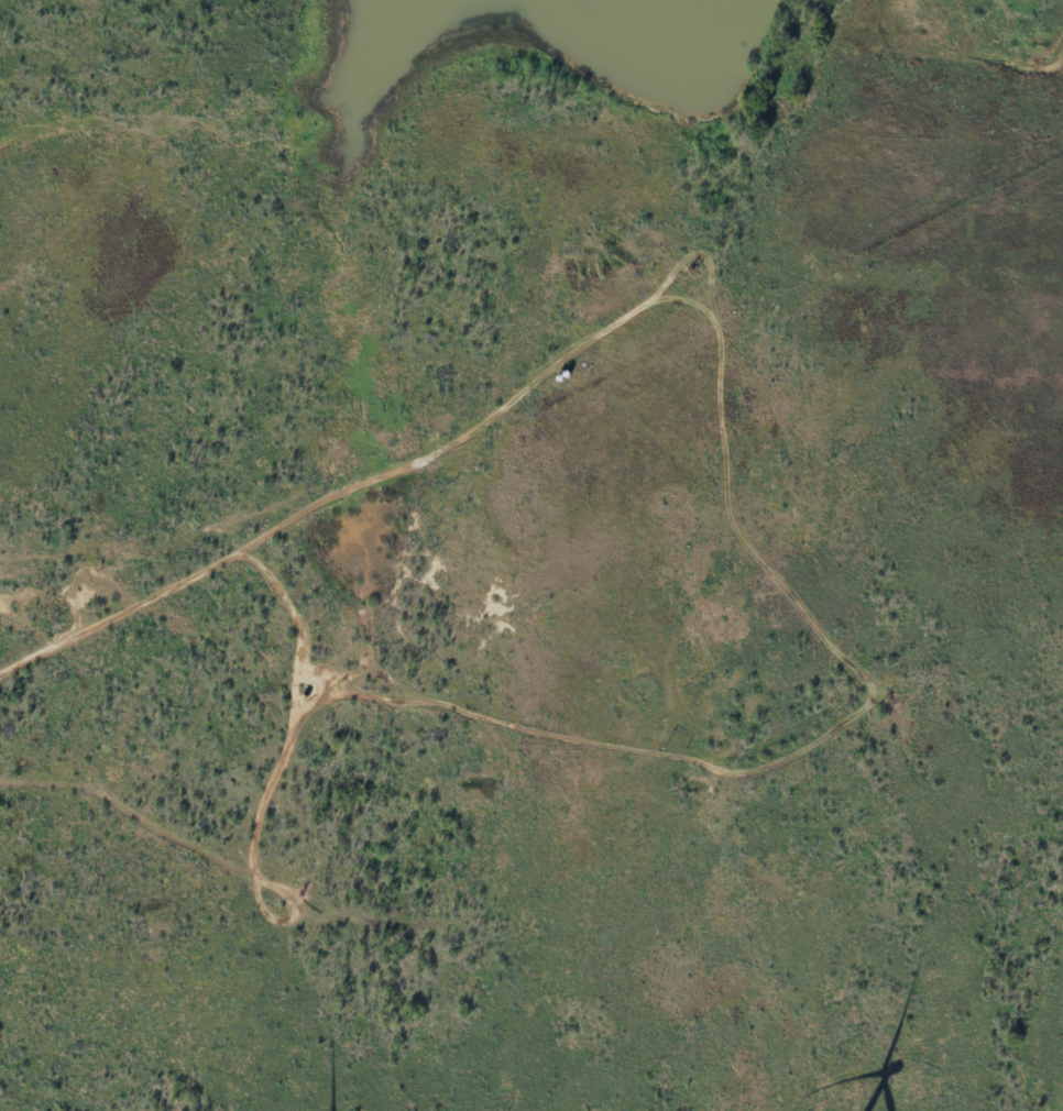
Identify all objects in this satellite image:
road: (309, 529)

